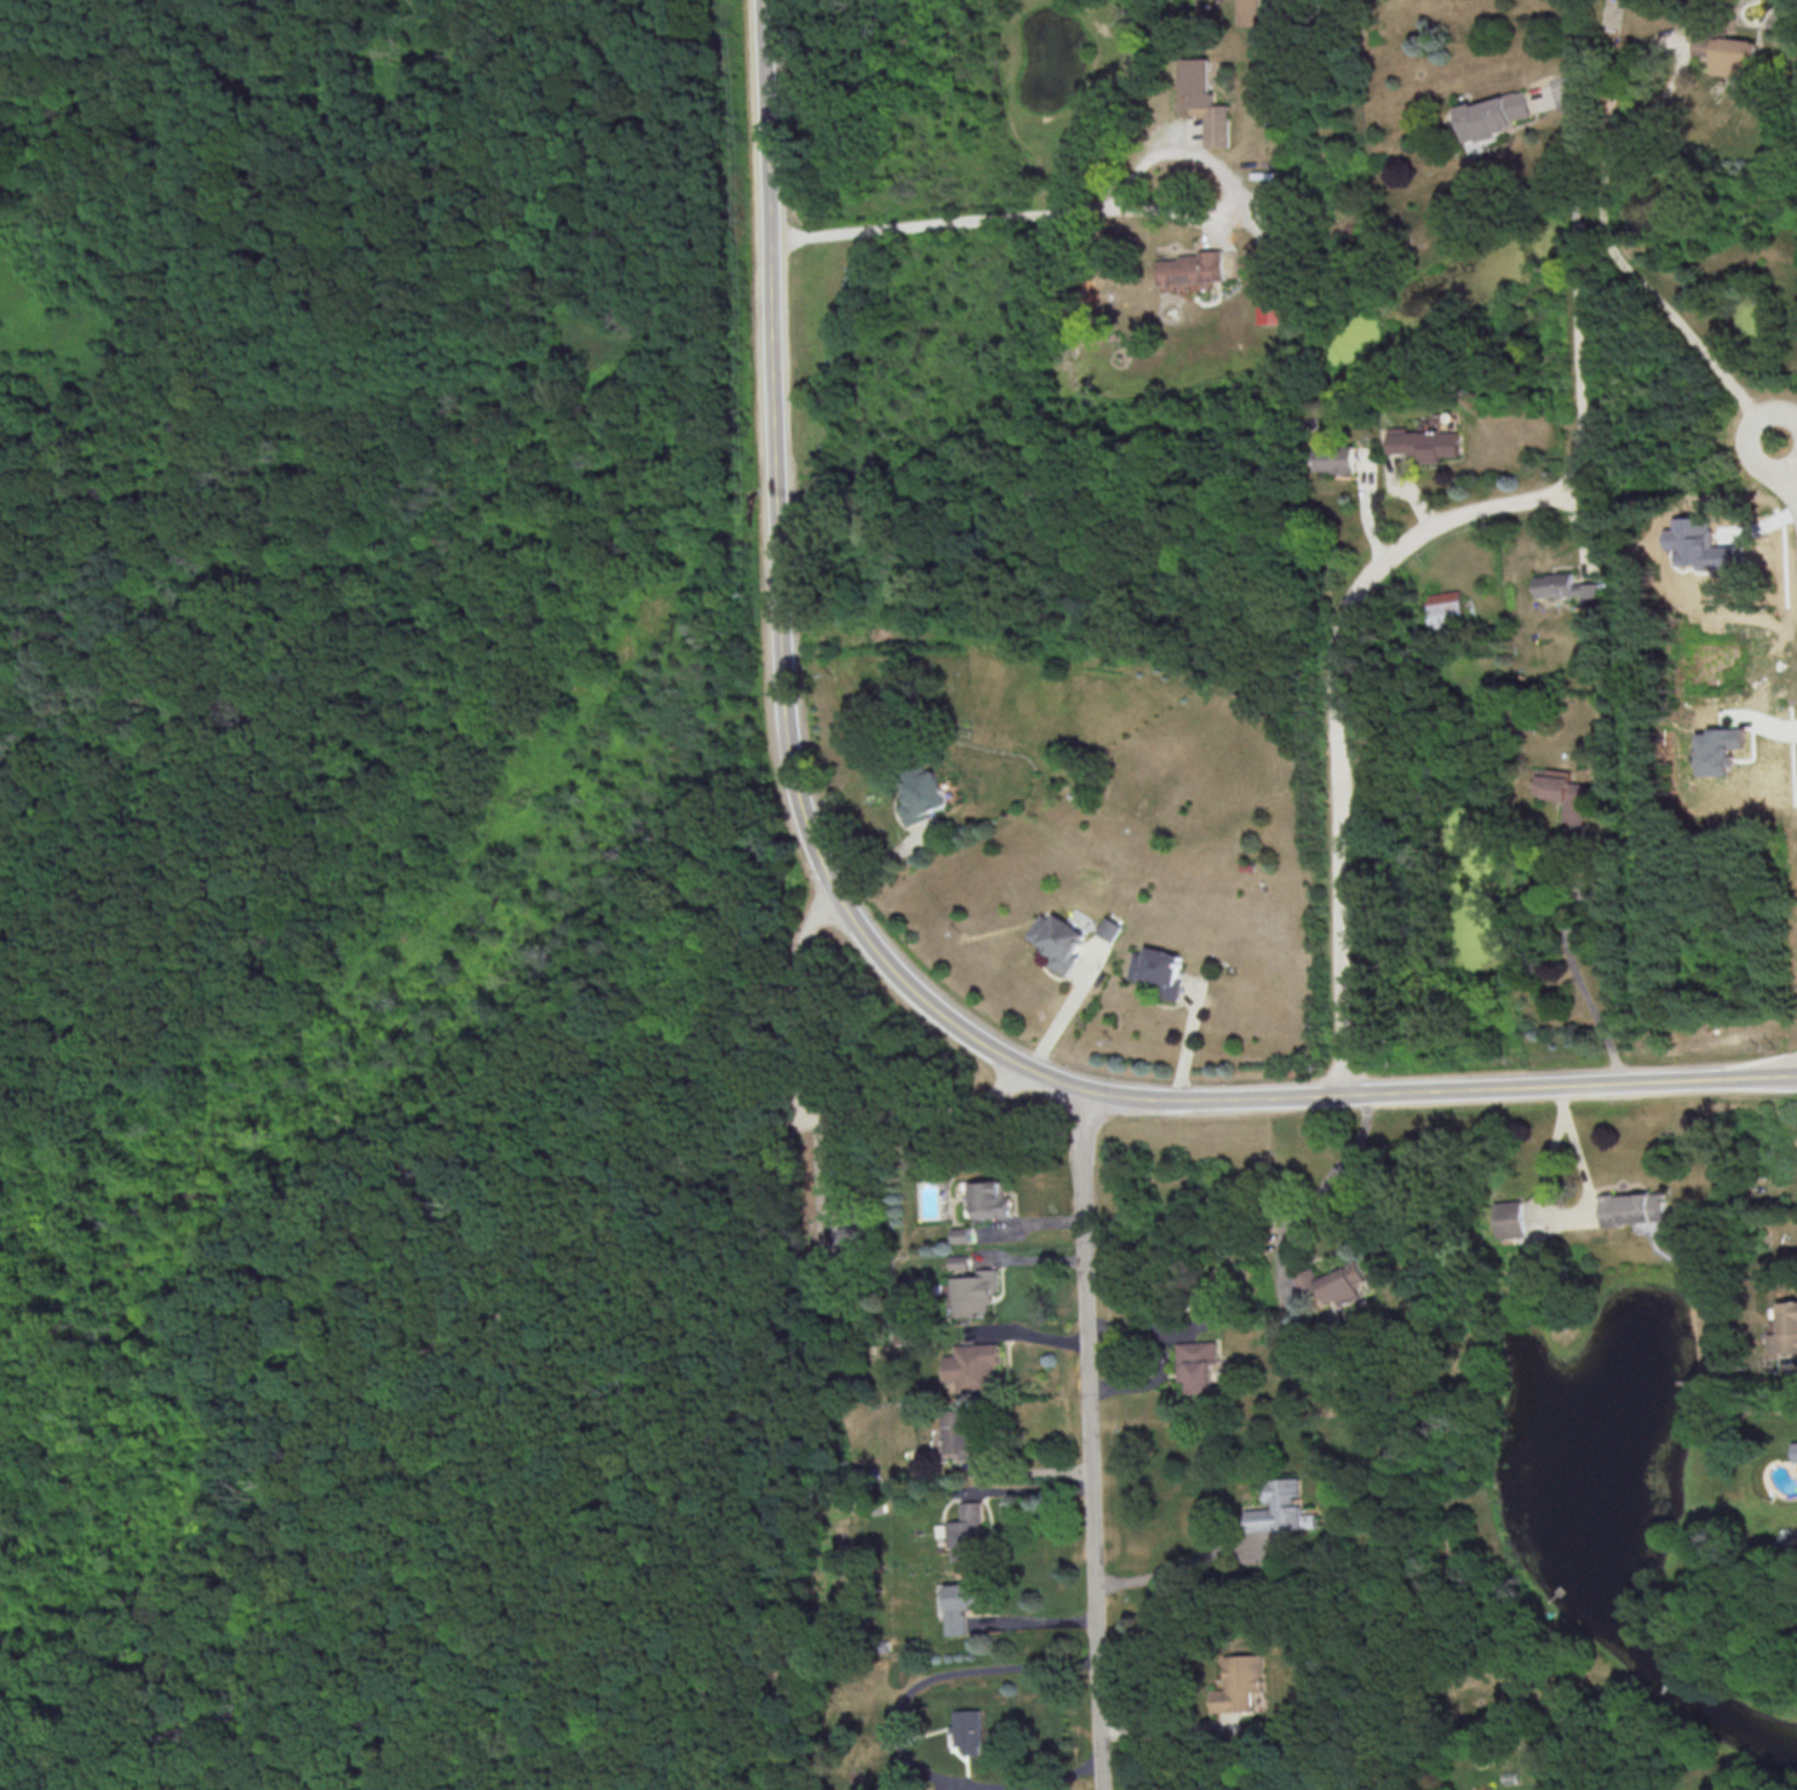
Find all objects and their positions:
building: (1251, 12)
building: (1730, 54)
building: (1207, 101)
building: (1494, 115)
road: (1602, 183)
road: (1004, 216)
building: (1199, 268)
building: (1270, 306)
building: (1423, 442)
building: (1336, 458)
road: (1787, 460)
building: (1700, 544)
road: (1386, 561)
building: (1566, 587)
building: (1443, 608)
building: (1718, 750)
building: (1563, 793)
building: (924, 796)
park: (391, 912)
building: (1107, 928)
building: (1056, 940)
road: (875, 947)
building: (1156, 970)
road: (1578, 975)
road: (186, 1028)
road: (530, 1083)
road: (334, 1114)
road: (805, 1117)
road: (751, 1152)
parking lot: (689, 1170)
road: (1328, 1178)
building: (989, 1198)
building: (1634, 1206)
building: (1510, 1217)
building: (961, 1234)
building: (1332, 1283)
building: (975, 1292)
building: (1784, 1329)
road: (1028, 1331)
building: (972, 1366)
building: (1199, 1366)
building: (955, 1432)
road: (1089, 1438)
road: (327, 1447)
building: (1795, 1450)
road: (1035, 1468)
parking lot: (314, 1478)
road: (314, 1479)
road: (1028, 1487)
building: (1280, 1508)
building: (966, 1525)
road: (1167, 1568)
building: (961, 1603)
road: (1034, 1619)
road: (440, 1625)
parking lot: (178, 1652)
road: (172, 1659)
building: (1239, 1682)
road: (297, 1715)
road: (894, 1728)
building: (968, 1729)
road: (1165, 1729)

